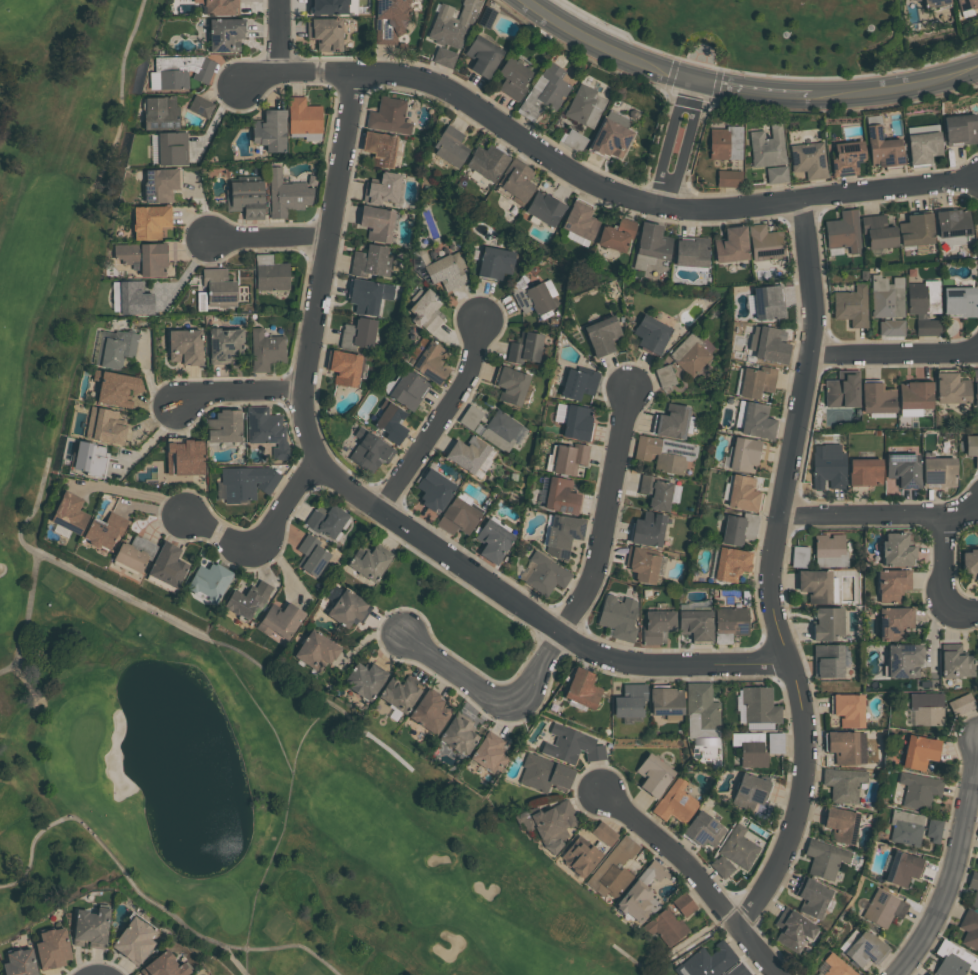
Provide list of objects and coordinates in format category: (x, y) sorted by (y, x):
building: (915, 0)
building: (934, 3)
building: (966, 4)
building: (219, 7)
building: (326, 7)
building: (487, 16)
building: (389, 20)
building: (452, 23)
building: (324, 34)
building: (225, 35)
park: (760, 35)
road: (279, 36)
building: (483, 53)
building: (445, 56)
building: (178, 71)
building: (514, 77)
road: (744, 90)
building: (545, 91)
building: (586, 105)
building: (202, 106)
building: (161, 112)
building: (389, 115)
building: (302, 116)
building: (961, 127)
building: (924, 128)
building: (269, 131)
building: (611, 137)
building: (575, 139)
road: (670, 140)
building: (726, 142)
road: (687, 145)
building: (451, 146)
building: (925, 147)
building: (154, 148)
building: (172, 149)
building: (379, 149)
building: (886, 151)
building: (770, 153)
building: (849, 156)
building: (487, 159)
building: (810, 160)
building: (729, 177)
building: (518, 179)
road: (595, 183)
building: (159, 185)
building: (384, 191)
building: (286, 195)
building: (245, 199)
building: (545, 207)
building: (581, 220)
building: (954, 222)
building: (149, 223)
building: (375, 224)
building: (917, 229)
building: (844, 231)
building: (880, 231)
building: (617, 234)
road: (268, 236)
building: (766, 241)
building: (732, 244)
building: (650, 245)
building: (692, 251)
building: (142, 258)
building: (369, 262)
building: (494, 262)
building: (446, 271)
building: (270, 274)
building: (218, 288)
building: (886, 295)
building: (363, 297)
building: (923, 297)
building: (538, 298)
building: (130, 299)
building: (958, 302)
building: (771, 303)
building: (850, 306)
building: (423, 310)
building: (928, 326)
building: (892, 327)
building: (358, 334)
building: (651, 334)
building: (601, 336)
building: (224, 344)
building: (771, 346)
building: (184, 347)
building: (113, 348)
building: (524, 348)
building: (265, 350)
road: (895, 350)
building: (689, 354)
building: (430, 363)
building: (345, 369)
building: (756, 381)
building: (578, 384)
building: (510, 386)
building: (975, 386)
building: (951, 388)
building: (115, 389)
road: (237, 389)
building: (841, 390)
building: (407, 391)
building: (915, 396)
building: (876, 399)
road: (442, 416)
building: (672, 422)
building: (756, 422)
building: (575, 423)
building: (391, 424)
building: (224, 425)
building: (104, 427)
building: (266, 430)
building: (503, 432)
building: (971, 449)
building: (368, 452)
building: (665, 453)
building: (743, 455)
building: (184, 456)
building: (470, 456)
building: (568, 459)
building: (89, 460)
building: (828, 467)
building: (902, 470)
building: (864, 472)
building: (938, 472)
building: (246, 481)
building: (433, 490)
building: (654, 493)
road: (138, 494)
building: (742, 494)
building: (559, 497)
road: (370, 506)
road: (607, 510)
building: (69, 512)
road: (881, 515)
building: (457, 517)
building: (326, 519)
building: (105, 530)
building: (647, 531)
building: (732, 531)
building: (562, 534)
road: (260, 541)
building: (492, 541)
building: (831, 549)
building: (896, 551)
building: (134, 553)
building: (312, 554)
building: (800, 555)
building: (368, 561)
building: (970, 563)
building: (168, 564)
building: (730, 565)
building: (641, 566)
road: (772, 572)
building: (544, 575)
road: (945, 575)
building: (209, 581)
building: (890, 585)
building: (814, 586)
building: (248, 600)
building: (348, 609)
park: (454, 616)
building: (618, 617)
building: (731, 621)
building: (279, 622)
building: (826, 624)
building: (893, 624)
building: (695, 626)
building: (657, 627)
building: (315, 650)
park: (202, 651)
building: (829, 661)
building: (902, 661)
building: (955, 662)
building: (365, 679)
building: (582, 690)
building: (399, 693)
road: (489, 696)
building: (664, 698)
building: (629, 701)
building: (962, 703)
building: (702, 705)
building: (759, 705)
building: (927, 708)
building: (847, 710)
building: (429, 711)
building: (458, 735)
building: (776, 741)
building: (571, 746)
building: (842, 747)
building: (751, 748)
building: (489, 751)
building: (918, 752)
building: (543, 773)
building: (653, 777)
building: (843, 784)
building: (918, 790)
building: (749, 791)
building: (675, 803)
building: (551, 825)
building: (840, 825)
building: (906, 827)
building: (934, 829)
building: (702, 830)
building: (605, 832)
building: (740, 846)
building: (580, 856)
building: (824, 859)
building: (722, 865)
building: (901, 869)
building: (613, 870)
road: (691, 871)
road: (954, 878)
building: (973, 888)
building: (640, 893)
building: (812, 899)
building: (685, 903)
building: (883, 909)
building: (90, 927)
building: (667, 927)
building: (969, 930)
building: (792, 931)
building: (133, 940)
building: (52, 948)
building: (865, 950)
building: (953, 960)
building: (19, 962)
building: (707, 962)
building: (164, 965)
building: (836, 966)
building: (737, 971)
building: (929, 974)

